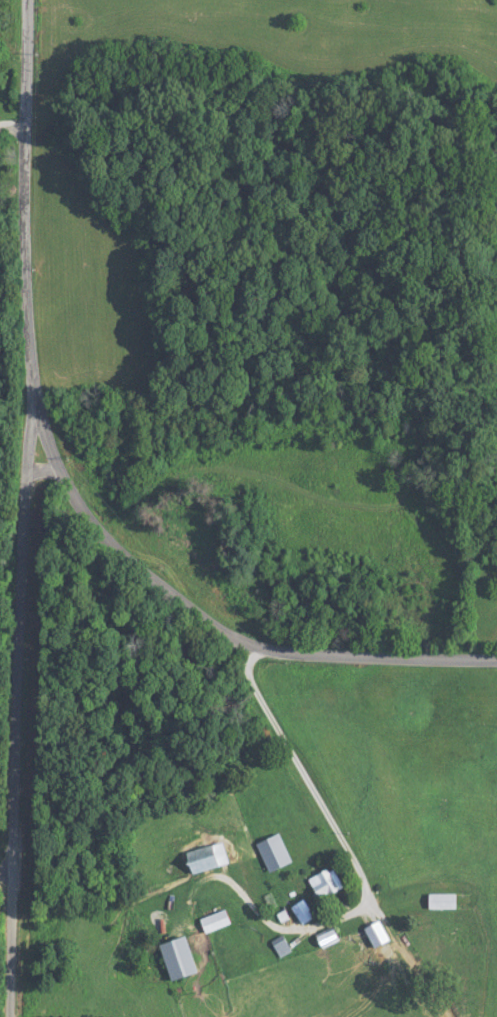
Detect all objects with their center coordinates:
road: (25, 508)
road: (225, 629)
road: (335, 825)
building: (268, 851)
building: (198, 858)
road: (4, 865)
building: (319, 883)
building: (437, 901)
building: (297, 911)
building: (208, 921)
building: (371, 933)
building: (321, 938)
building: (275, 945)
building: (172, 949)

